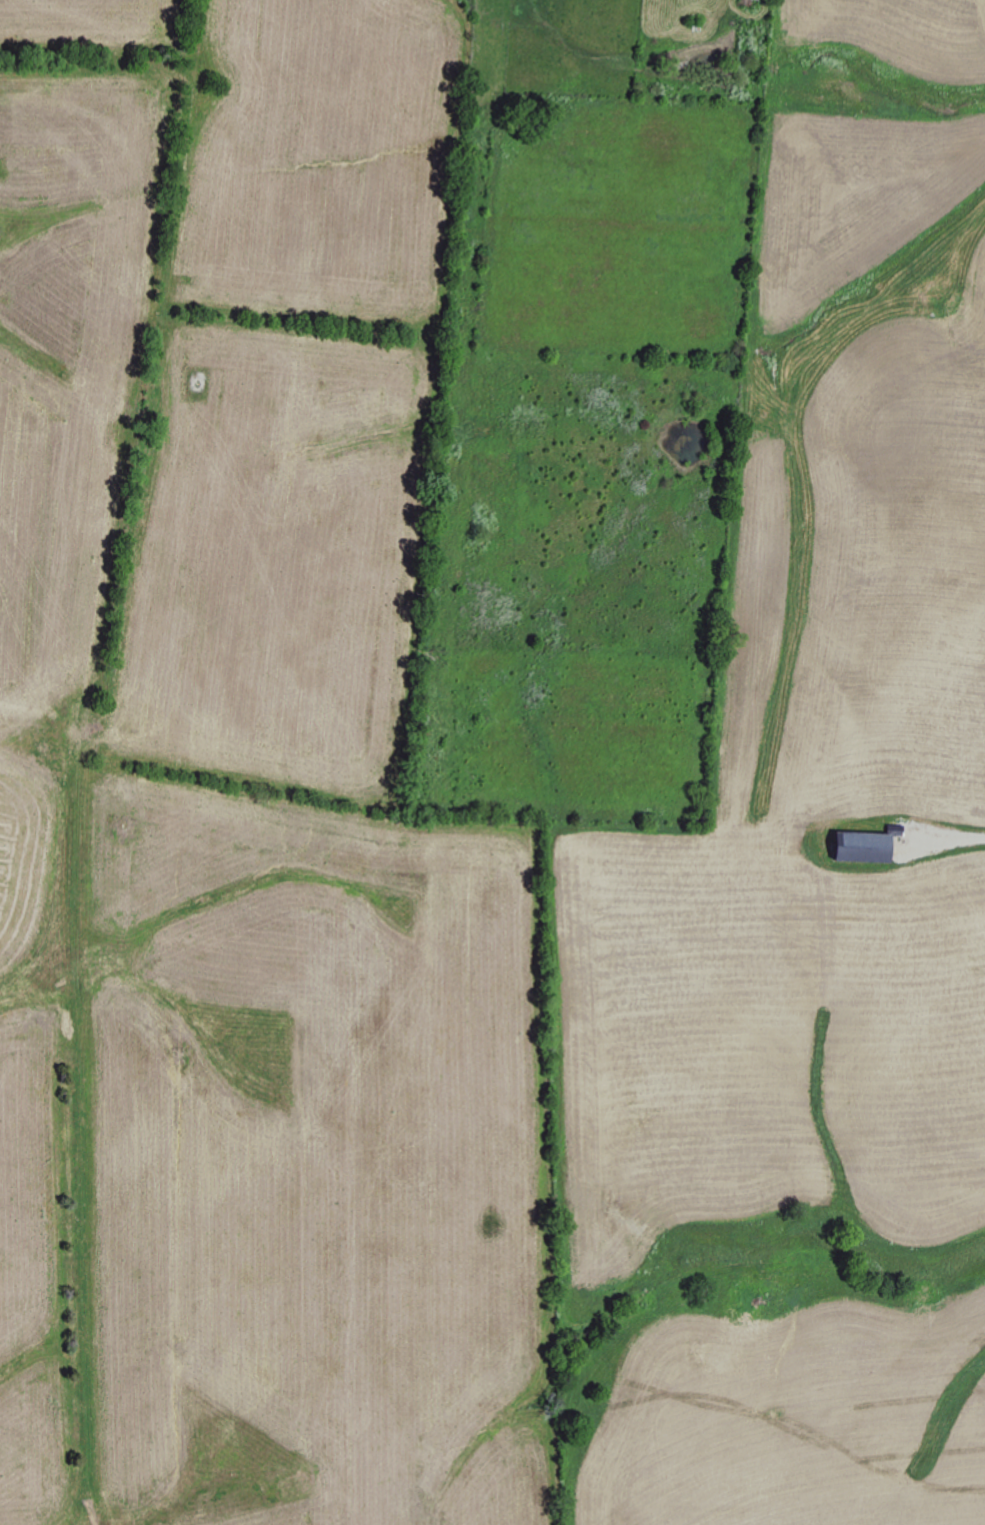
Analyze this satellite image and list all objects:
road: (953, 840)
building: (864, 846)

